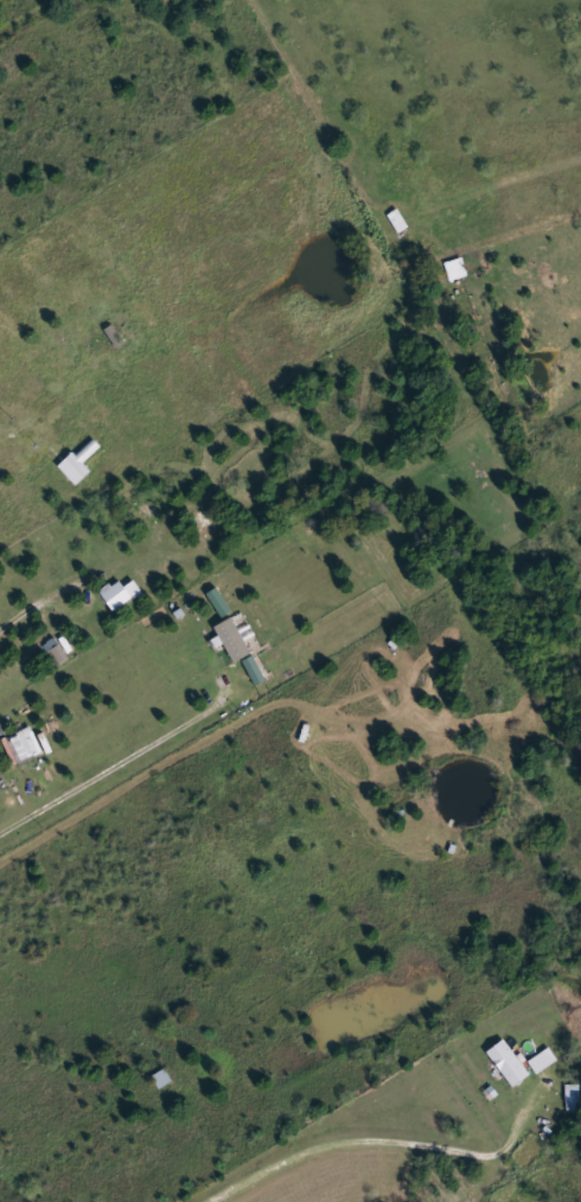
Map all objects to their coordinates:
road: (25, 14)
building: (87, 463)
building: (127, 594)
building: (237, 641)
building: (58, 655)
building: (260, 672)
building: (27, 746)
building: (544, 1061)
building: (509, 1063)
building: (162, 1079)
building: (574, 1096)

